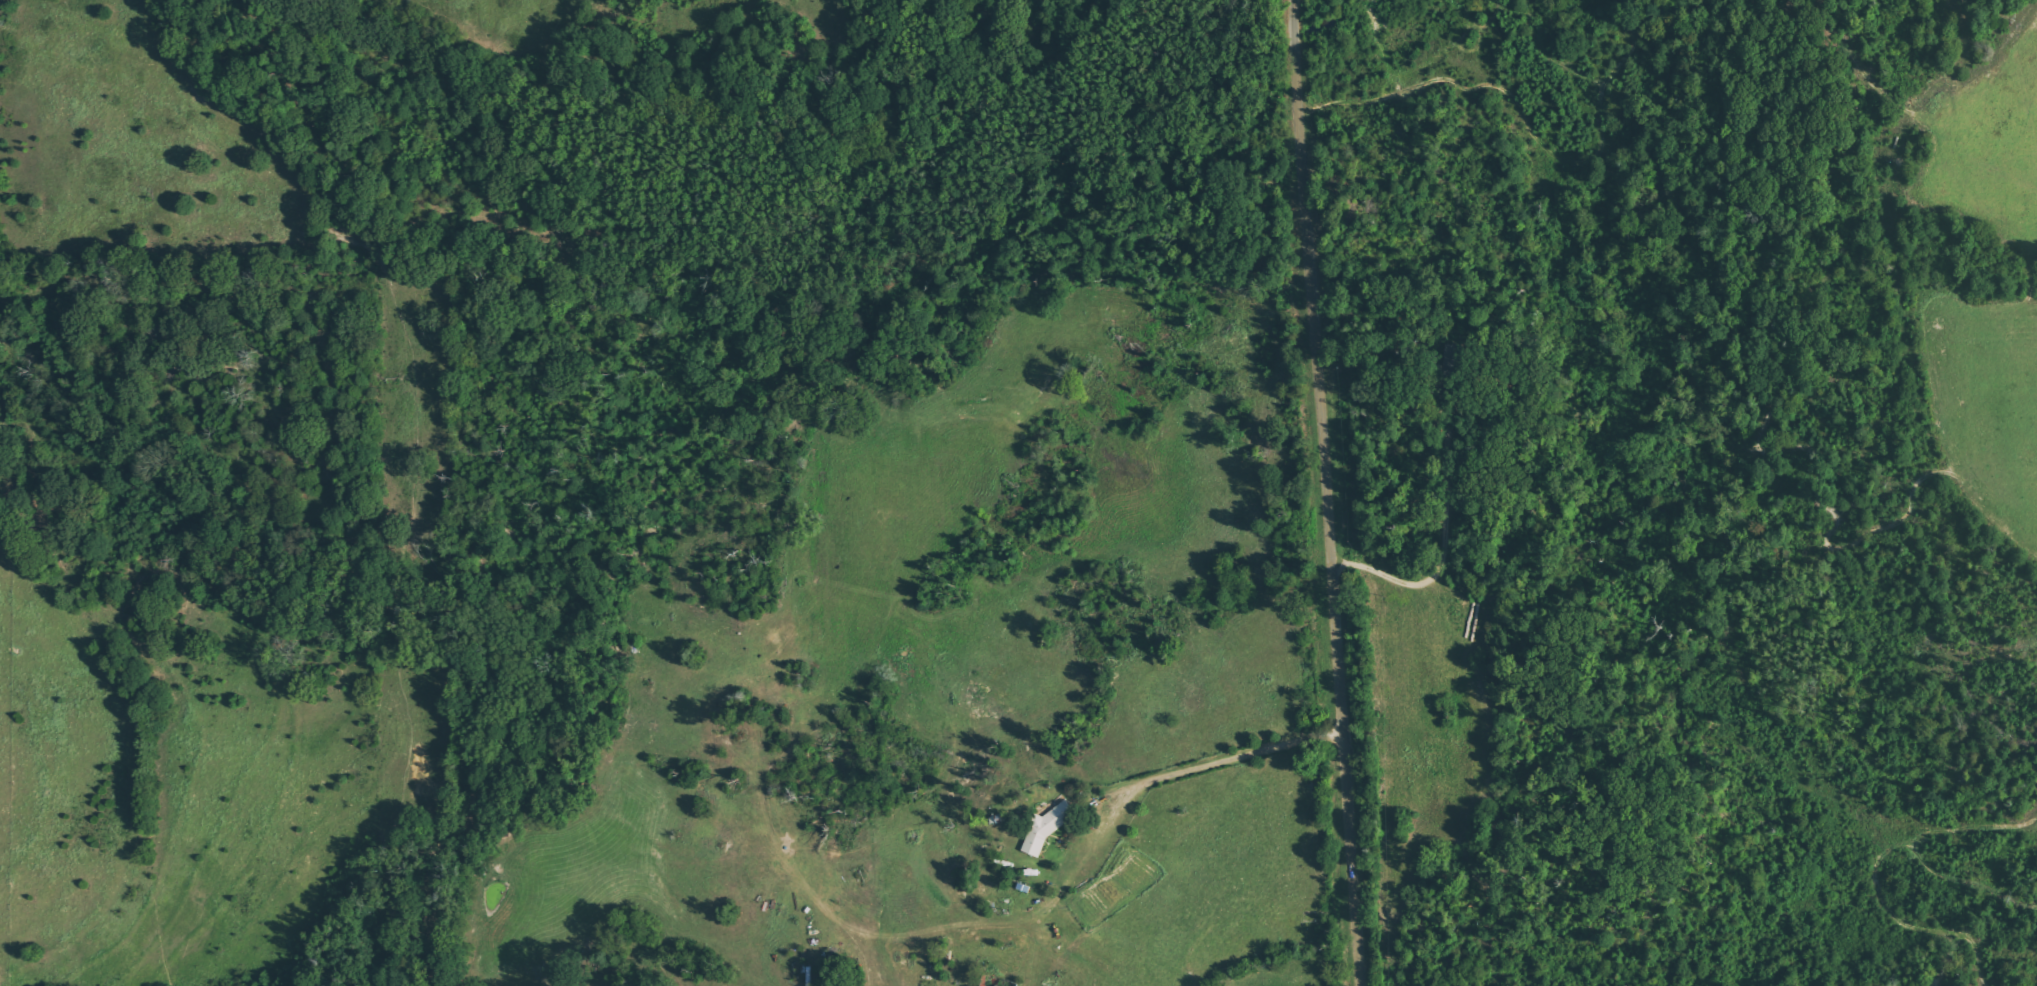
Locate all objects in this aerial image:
building: (1453, 355)
road: (1133, 358)
road: (1333, 493)
road: (1442, 540)
road: (1202, 764)
building: (1047, 826)

